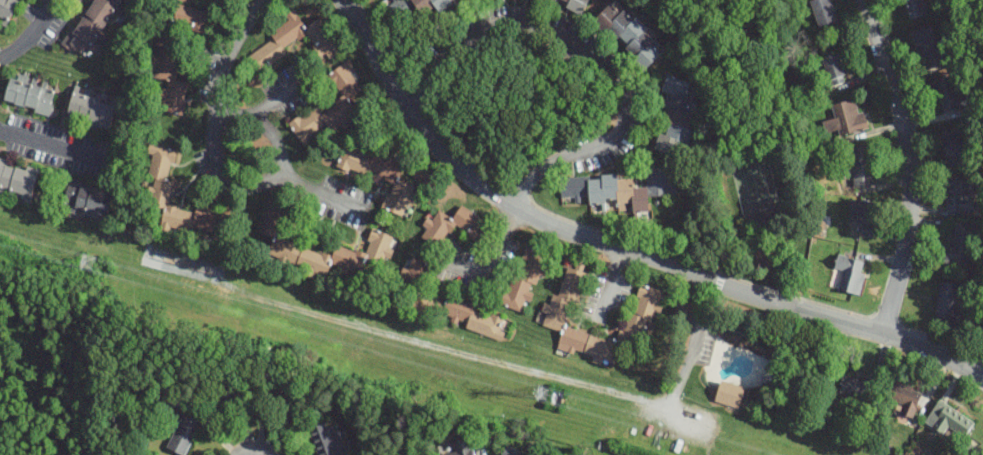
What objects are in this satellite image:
building: (572, 5)
building: (411, 8)
building: (915, 8)
building: (6, 9)
building: (823, 12)
building: (94, 26)
road: (31, 32)
road: (469, 35)
building: (628, 35)
building: (290, 42)
building: (927, 48)
building: (176, 57)
building: (834, 69)
road: (276, 94)
building: (947, 95)
building: (29, 96)
building: (342, 101)
building: (90, 111)
building: (675, 114)
building: (846, 120)
road: (263, 125)
road: (618, 132)
road: (52, 143)
building: (953, 146)
road: (216, 157)
building: (0, 160)
road: (908, 163)
building: (862, 166)
building: (381, 175)
building: (17, 182)
building: (619, 190)
building: (157, 191)
building: (958, 195)
building: (86, 200)
building: (864, 213)
building: (454, 225)
building: (382, 241)
building: (960, 246)
road: (618, 250)
road: (491, 256)
power tower: (87, 263)
building: (850, 274)
building: (525, 279)
road: (611, 285)
building: (442, 302)
building: (947, 302)
building: (558, 311)
building: (641, 317)
road: (696, 329)
building: (855, 388)
building: (904, 393)
building: (728, 394)
building: (225, 396)
power tower: (553, 397)
building: (282, 399)
building: (167, 404)
building: (948, 420)
building: (183, 434)
building: (327, 440)
building: (462, 448)
building: (511, 451)

